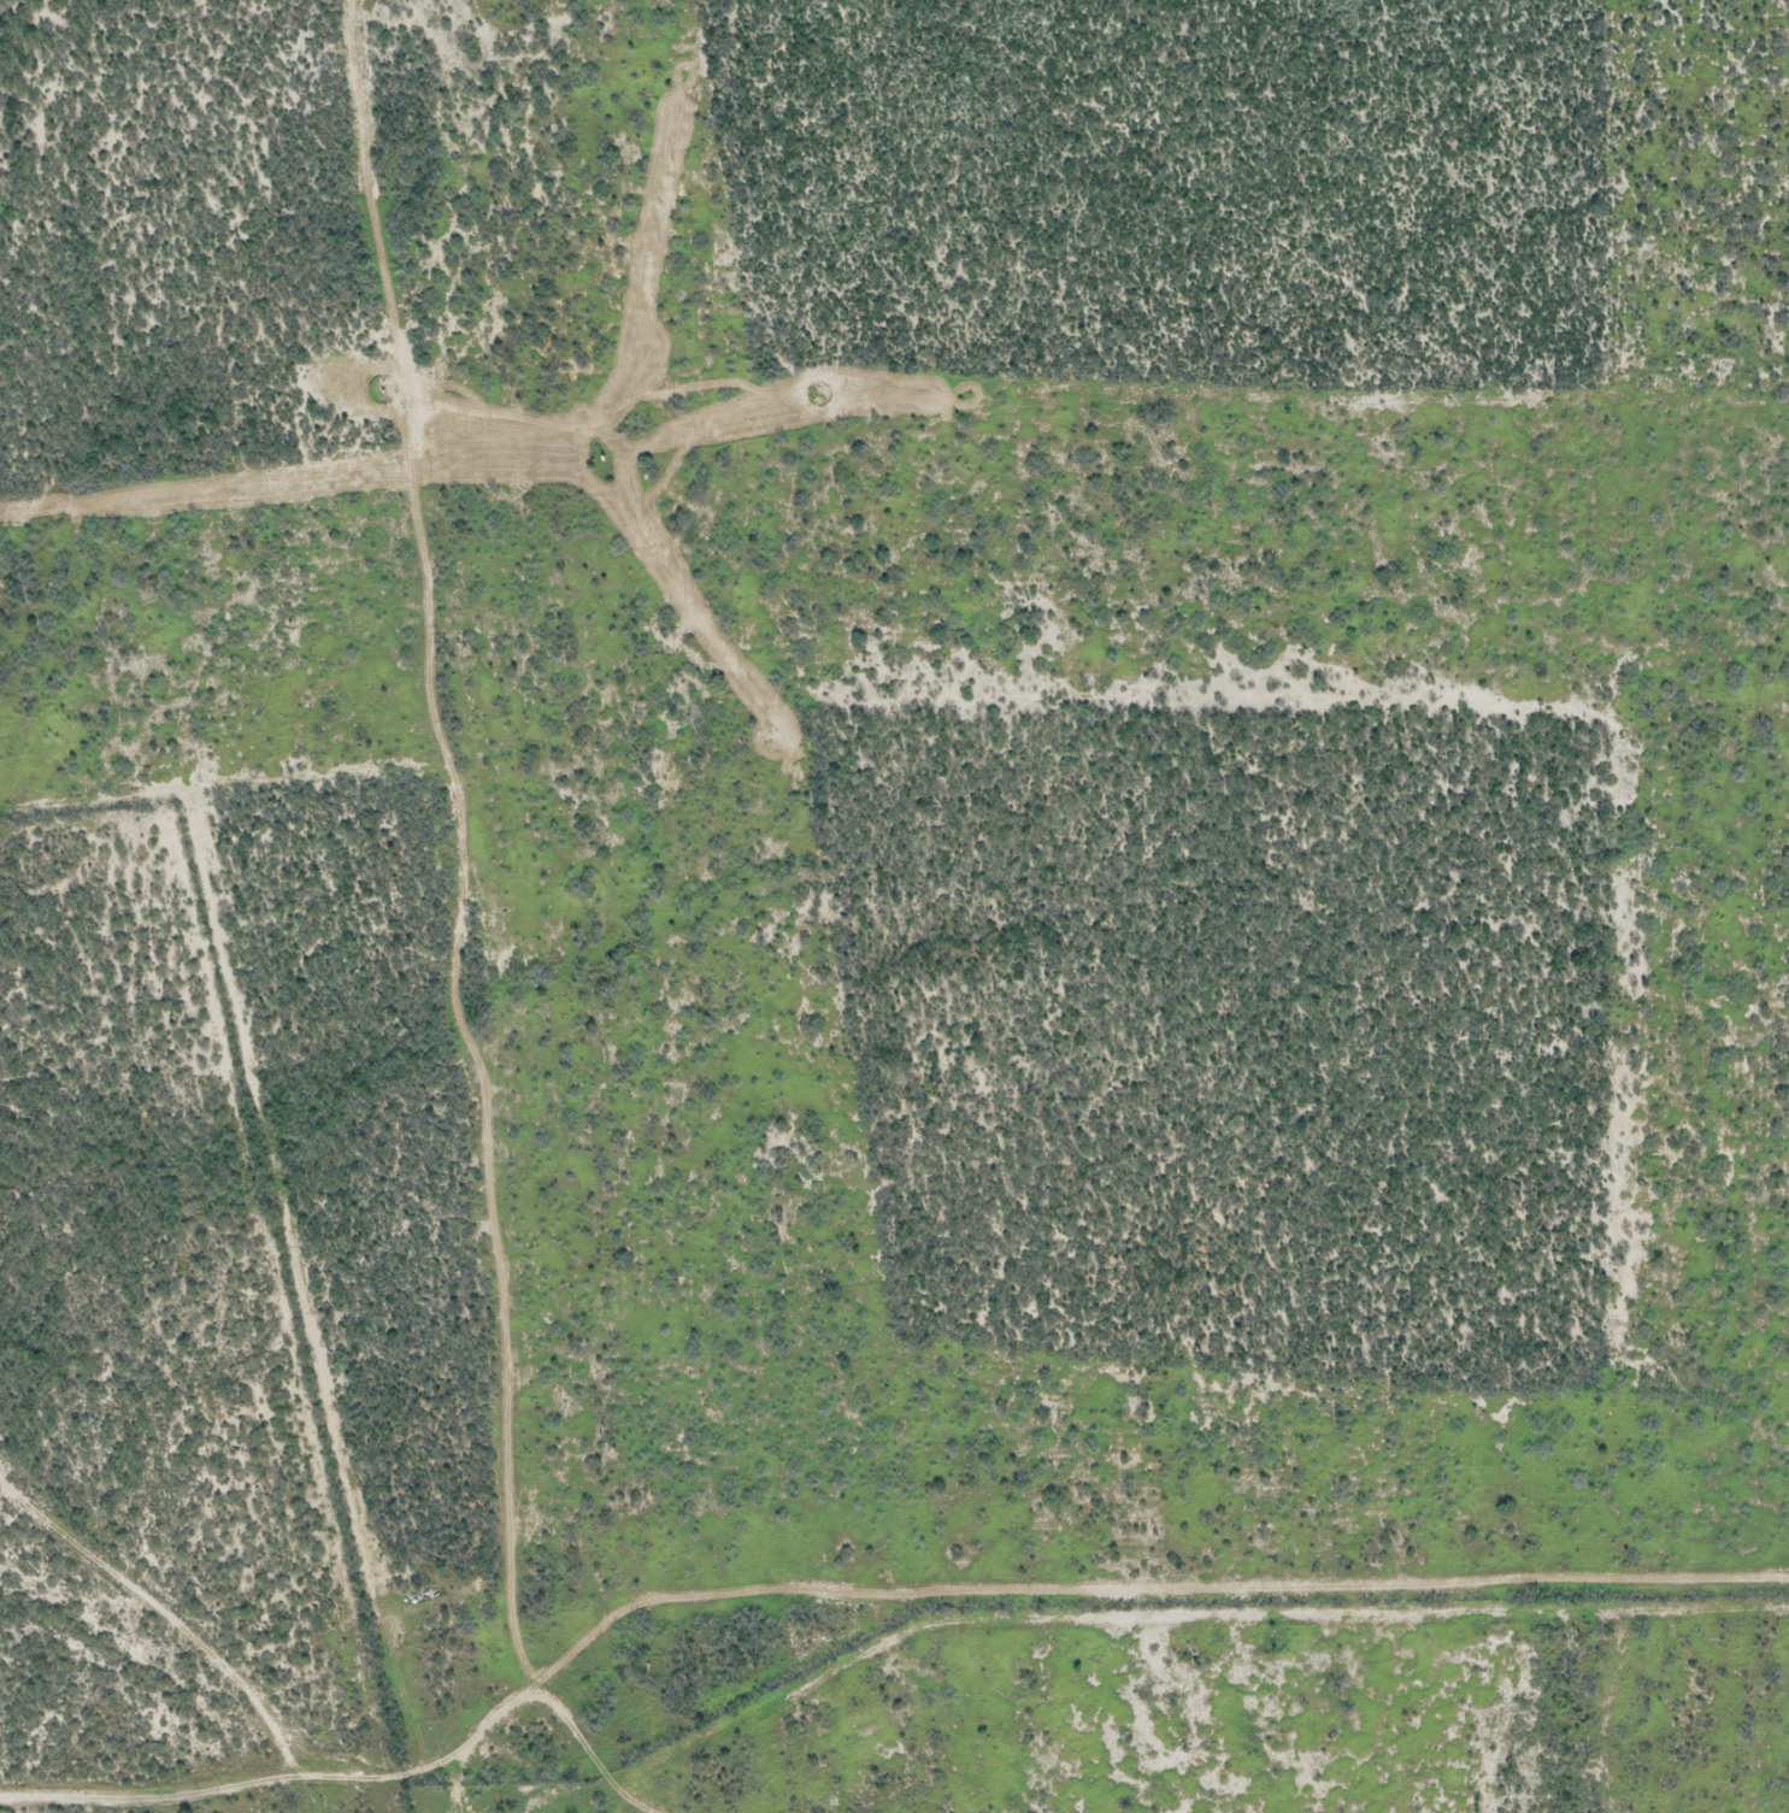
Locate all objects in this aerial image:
road: (167, 1615)
road: (322, 1790)

